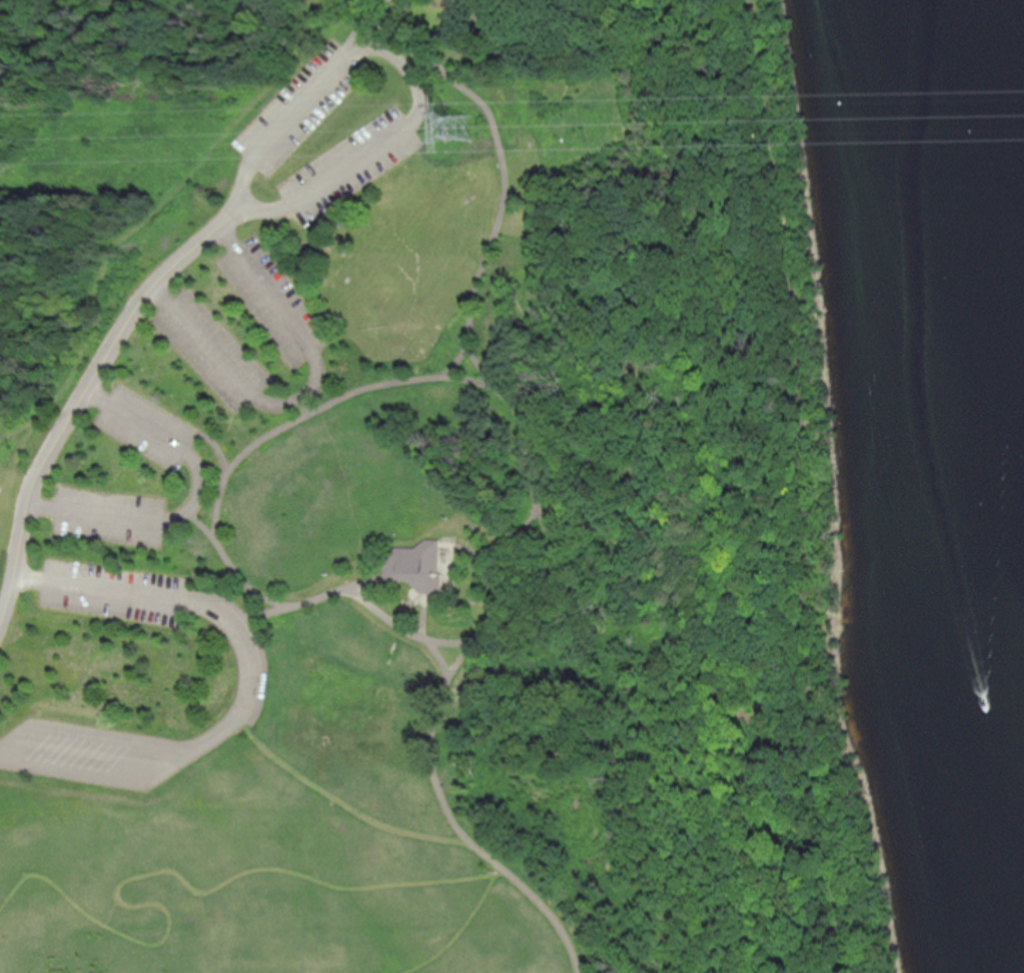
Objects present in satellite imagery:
road: (377, 28)
road: (44, 34)
road: (380, 54)
parking lot: (299, 106)
power tower: (457, 127)
parking lot: (348, 163)
road: (267, 296)
parking lot: (275, 309)
road: (202, 342)
parking lot: (212, 356)
road: (472, 361)
road: (453, 368)
road: (80, 394)
road: (302, 405)
road: (135, 420)
parking lot: (145, 427)
road: (281, 433)
road: (216, 447)
road: (805, 486)
road: (197, 493)
park: (424, 496)
road: (94, 513)
parking lot: (108, 516)
road: (7, 554)
building: (423, 571)
road: (365, 586)
road: (98, 592)
parking lot: (114, 596)
road: (291, 613)
road: (381, 618)
road: (423, 622)
road: (252, 690)
road: (157, 749)
parking lot: (86, 759)
road: (155, 770)
road: (312, 782)
road: (454, 821)
road: (230, 879)
road: (557, 896)

